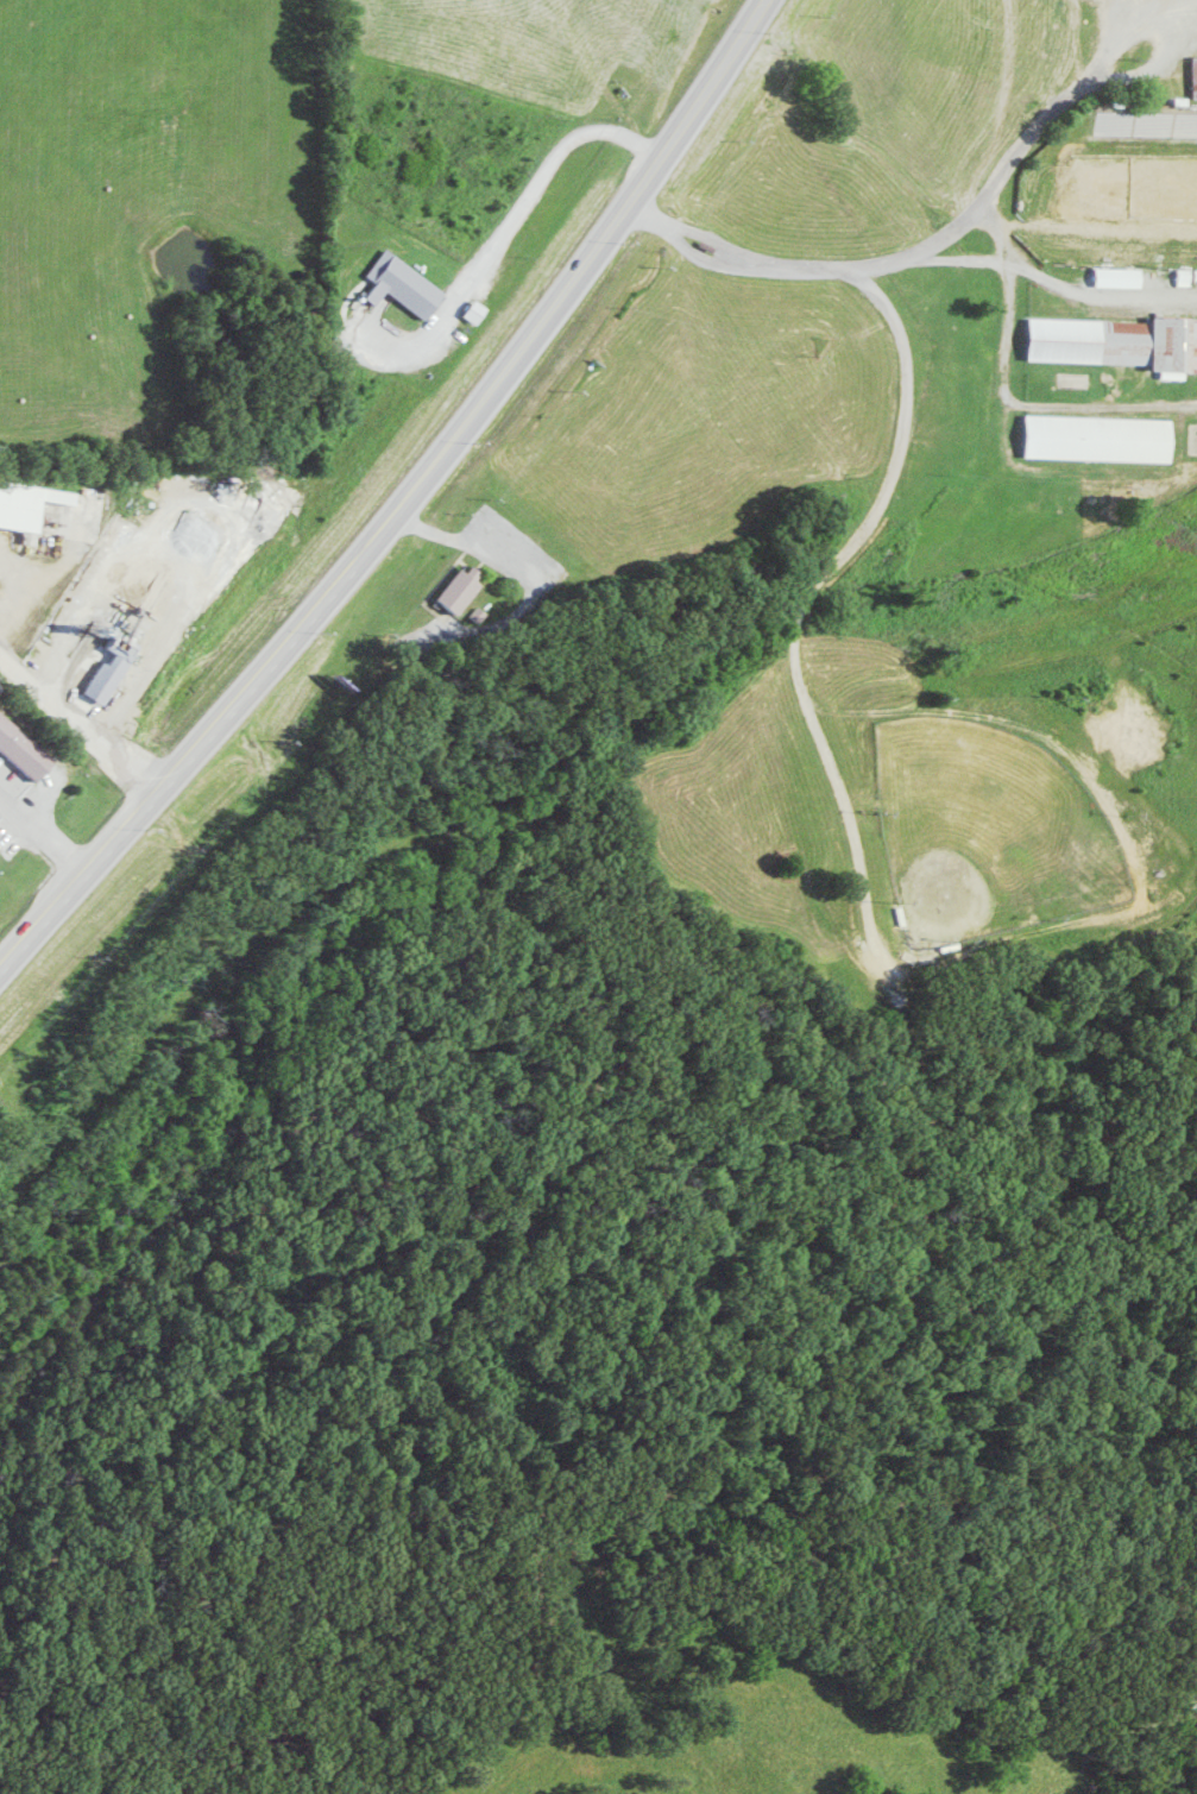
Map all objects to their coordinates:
building: (1124, 277)
building: (410, 284)
building: (1119, 342)
building: (1102, 438)
building: (30, 504)
road: (414, 505)
building: (468, 587)
road: (78, 712)
building: (25, 747)
building: (0, 842)

